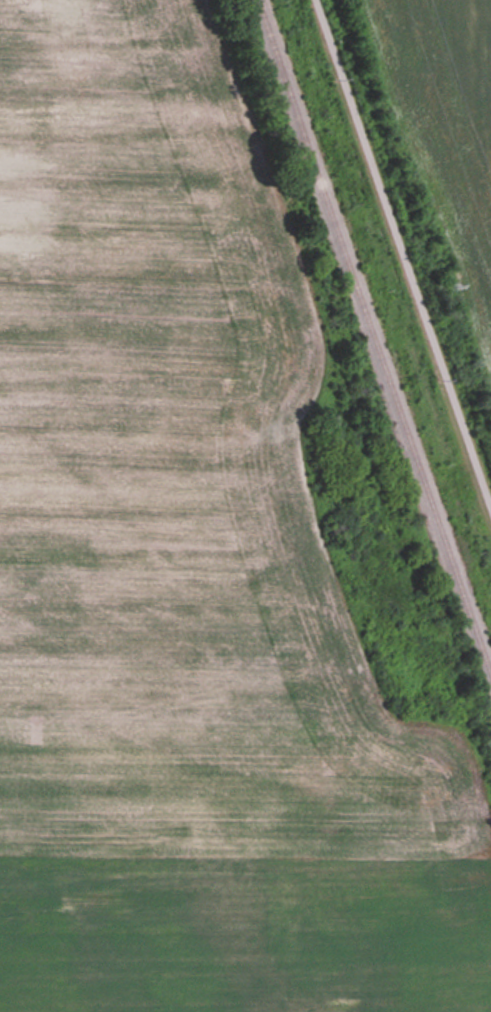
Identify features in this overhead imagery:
road: (401, 258)
railway: (373, 338)

